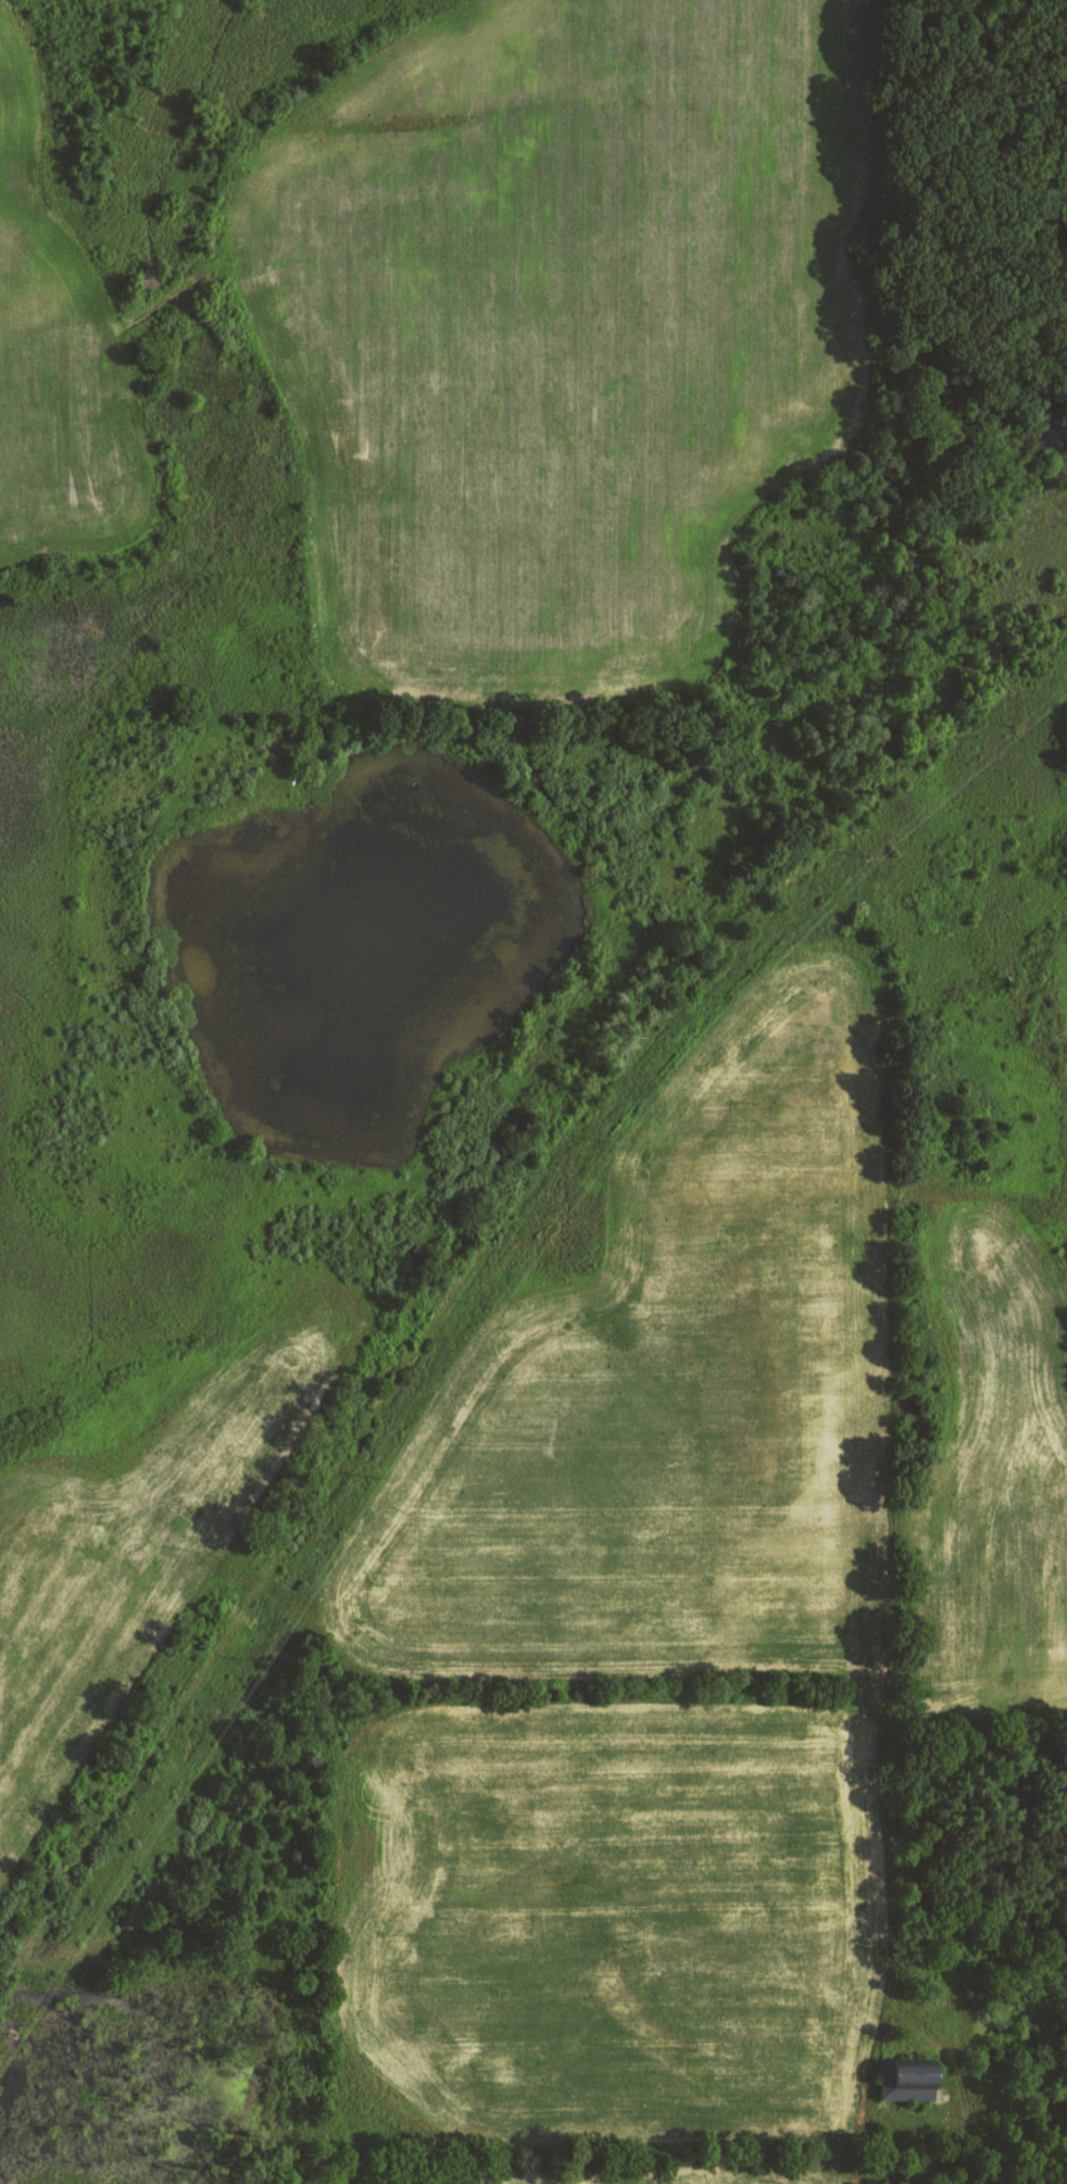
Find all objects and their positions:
building: (912, 2087)

